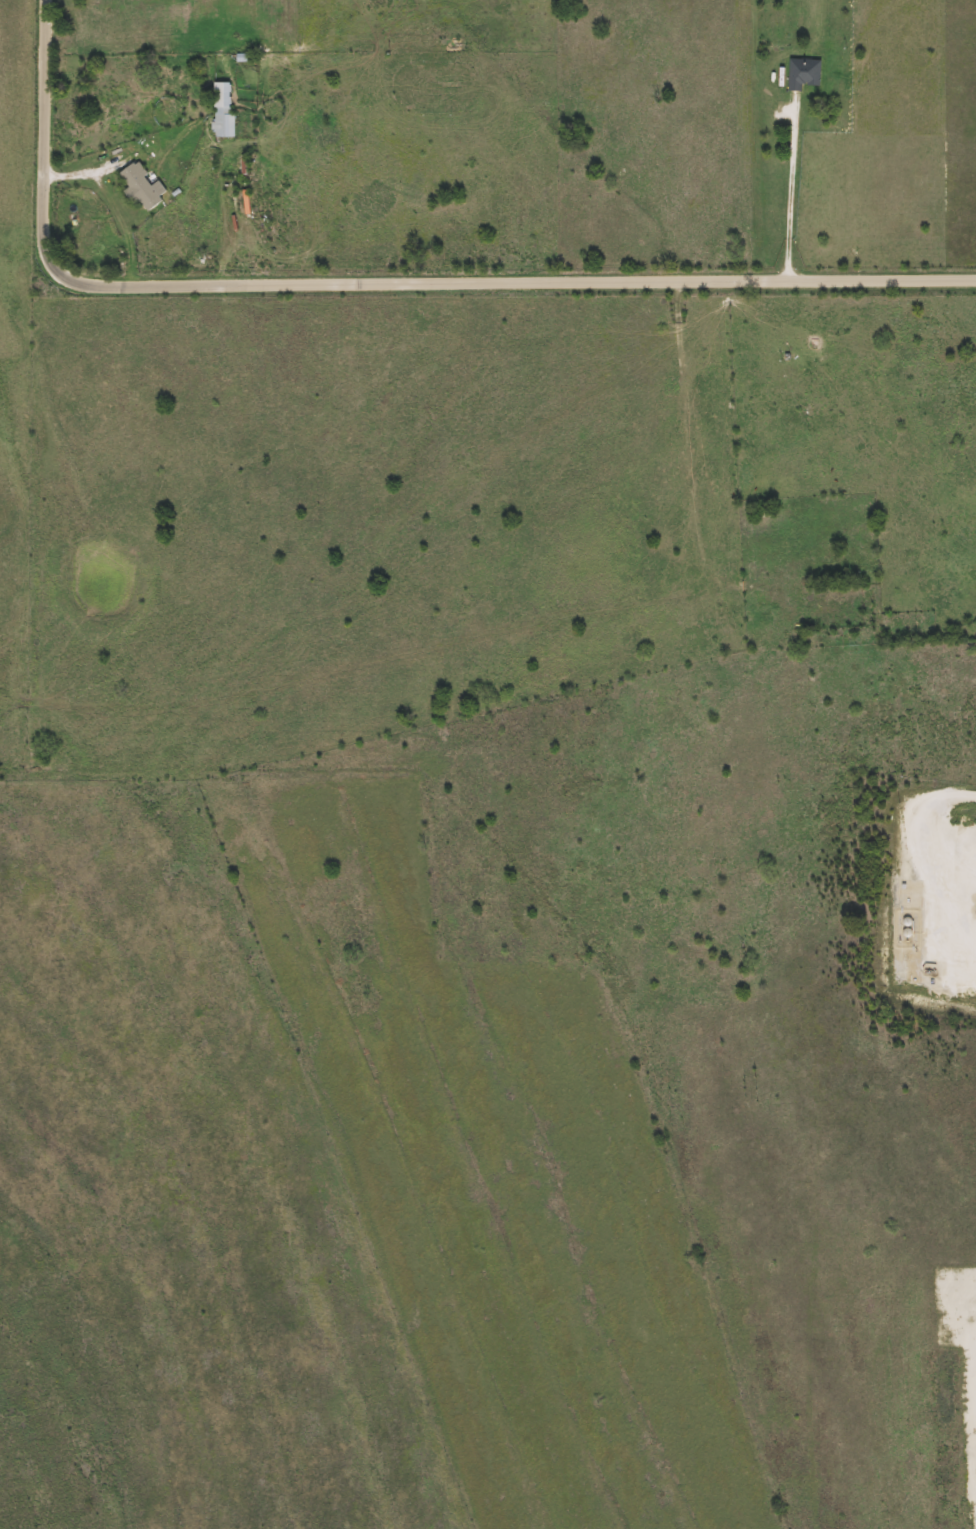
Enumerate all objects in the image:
building: (805, 73)
building: (224, 109)
building: (141, 186)
road: (787, 195)
road: (378, 286)
road: (933, 855)

